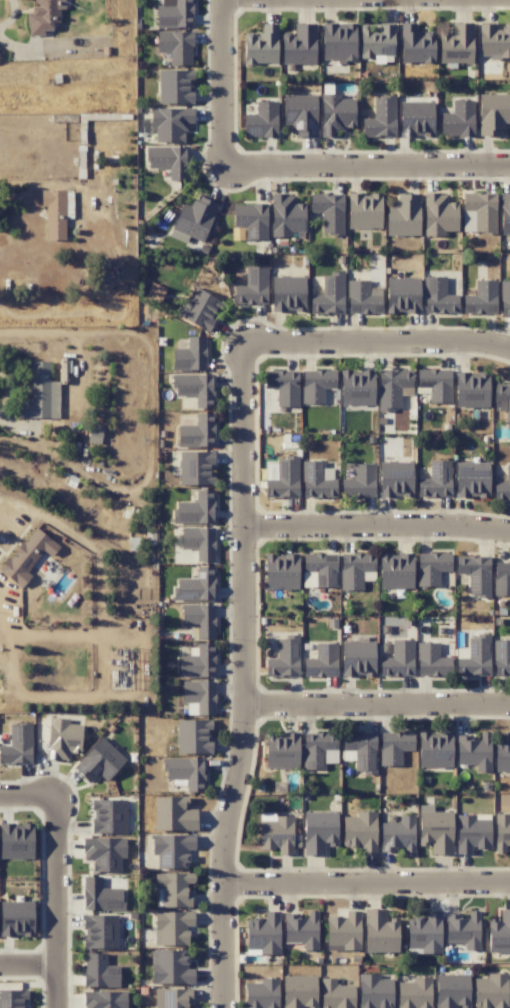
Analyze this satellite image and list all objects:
building: (42, 15)
building: (175, 15)
building: (338, 41)
building: (493, 41)
building: (377, 43)
building: (415, 44)
building: (457, 44)
building: (261, 45)
building: (299, 45)
building: (176, 46)
road: (226, 85)
building: (175, 86)
building: (493, 113)
building: (301, 114)
building: (336, 114)
building: (380, 118)
building: (458, 118)
building: (262, 119)
building: (416, 119)
building: (170, 123)
building: (168, 160)
road: (368, 169)
building: (69, 204)
building: (364, 211)
building: (328, 212)
building: (478, 212)
building: (54, 213)
building: (504, 213)
building: (439, 214)
building: (286, 215)
building: (403, 215)
road: (33, 218)
building: (251, 219)
building: (252, 287)
building: (154, 293)
building: (288, 294)
building: (329, 295)
building: (402, 295)
building: (438, 296)
building: (363, 297)
building: (481, 298)
building: (504, 298)
building: (200, 308)
road: (375, 340)
building: (190, 355)
building: (435, 383)
building: (316, 385)
building: (283, 386)
building: (392, 386)
building: (356, 387)
building: (195, 388)
building: (471, 389)
building: (41, 394)
building: (502, 398)
building: (197, 432)
building: (196, 467)
building: (282, 478)
building: (395, 479)
building: (472, 479)
building: (317, 480)
building: (436, 480)
building: (359, 482)
building: (503, 487)
building: (195, 508)
road: (376, 524)
building: (199, 542)
building: (27, 555)
building: (432, 566)
building: (319, 569)
building: (355, 569)
building: (395, 570)
building: (281, 571)
building: (474, 573)
building: (501, 578)
building: (195, 585)
building: (200, 619)
building: (474, 657)
building: (501, 657)
building: (284, 658)
building: (357, 658)
building: (398, 659)
building: (322, 660)
building: (431, 660)
building: (197, 662)
road: (242, 674)
building: (198, 697)
road: (376, 704)
building: (193, 736)
building: (62, 739)
building: (17, 745)
building: (394, 747)
building: (435, 749)
building: (281, 750)
building: (319, 750)
building: (474, 750)
building: (360, 751)
building: (502, 756)
building: (99, 761)
building: (186, 772)
road: (29, 796)
building: (174, 814)
building: (108, 816)
building: (435, 829)
building: (319, 831)
building: (276, 832)
building: (360, 832)
building: (472, 832)
building: (501, 832)
building: (398, 835)
building: (16, 841)
building: (172, 850)
building: (104, 853)
road: (365, 882)
building: (174, 888)
building: (101, 895)
road: (59, 902)
building: (16, 918)
building: (171, 927)
building: (301, 929)
building: (463, 929)
building: (100, 931)
building: (380, 931)
building: (344, 932)
building: (263, 933)
building: (424, 933)
building: (499, 933)
road: (29, 962)
building: (171, 968)
building: (99, 971)
building: (299, 991)
building: (374, 991)
building: (451, 991)
building: (490, 991)
building: (414, 993)
building: (261, 994)
building: (336, 994)
building: (13, 998)
building: (172, 998)
building: (105, 999)

